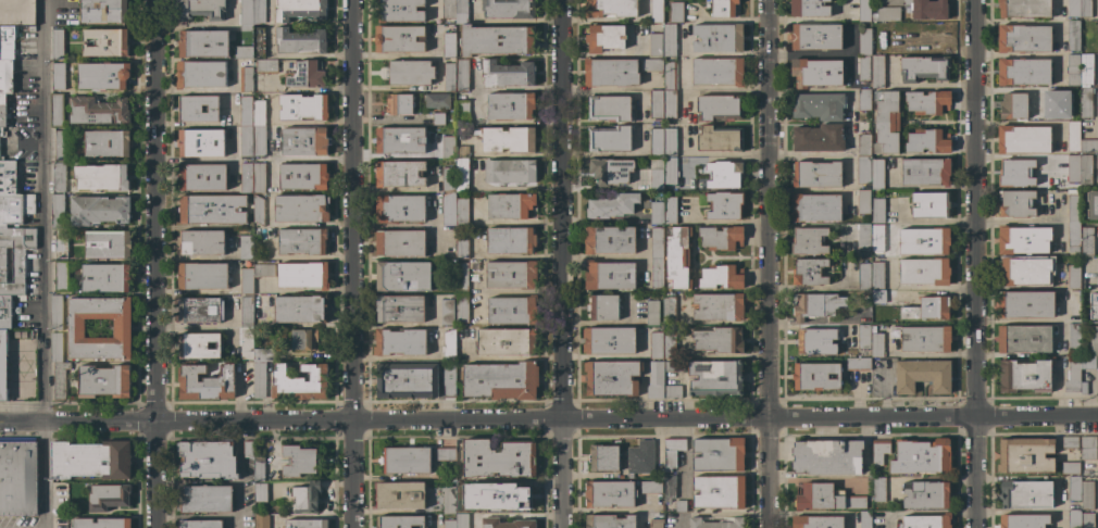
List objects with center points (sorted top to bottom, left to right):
building: (611, 8)
building: (722, 8)
building: (809, 8)
building: (1073, 8)
building: (201, 9)
building: (299, 9)
building: (448, 9)
building: (508, 9)
building: (926, 9)
building: (1024, 9)
building: (1085, 9)
building: (1095, 9)
building: (103, 11)
building: (400, 11)
building: (656, 11)
building: (863, 11)
building: (16, 12)
building: (246, 12)
building: (259, 12)
building: (461, 12)
building: (675, 12)
building: (886, 13)
road: (1045, 22)
building: (246, 28)
building: (815, 36)
building: (1073, 36)
building: (933, 37)
building: (399, 38)
building: (604, 38)
building: (718, 38)
building: (1024, 38)
building: (497, 40)
building: (669, 40)
building: (300, 41)
building: (863, 41)
building: (7, 42)
building: (104, 42)
building: (259, 42)
building: (1097, 42)
building: (58, 43)
building: (203, 43)
building: (449, 45)
building: (656, 45)
building: (896, 45)
building: (242, 52)
road: (1016, 55)
building: (650, 65)
building: (266, 66)
building: (863, 68)
building: (923, 68)
building: (1073, 70)
building: (1086, 70)
building: (877, 71)
building: (410, 72)
building: (718, 72)
building: (1023, 72)
building: (610, 73)
building: (815, 73)
building: (200, 74)
building: (507, 74)
building: (102, 75)
building: (305, 75)
building: (462, 75)
building: (5, 76)
building: (58, 76)
building: (449, 76)
building: (669, 76)
building: (246, 79)
road: (507, 88)
road: (201, 90)
building: (1052, 97)
building: (437, 100)
building: (863, 100)
building: (927, 102)
building: (1086, 102)
building: (399, 104)
building: (656, 104)
building: (669, 104)
building: (510, 105)
building: (1013, 105)
building: (303, 106)
building: (818, 106)
building: (609, 108)
building: (719, 108)
building: (198, 109)
building: (57, 110)
building: (3, 111)
building: (98, 111)
building: (246, 111)
building: (461, 112)
building: (259, 113)
building: (1062, 116)
building: (437, 118)
building: (886, 122)
road: (202, 123)
building: (2, 133)
building: (1073, 136)
building: (719, 138)
building: (819, 138)
building: (506, 139)
building: (609, 139)
building: (1023, 139)
building: (400, 140)
building: (928, 140)
building: (246, 141)
building: (259, 141)
building: (303, 141)
building: (656, 141)
building: (200, 142)
building: (670, 142)
building: (107, 143)
building: (60, 144)
building: (863, 144)
building: (1088, 146)
building: (448, 147)
building: (462, 151)
building: (1, 159)
road: (199, 159)
building: (1073, 167)
building: (863, 169)
building: (1085, 169)
building: (510, 171)
building: (610, 171)
building: (670, 171)
building: (925, 172)
building: (1015, 173)
building: (400, 174)
building: (461, 174)
building: (724, 174)
building: (877, 174)
building: (816, 175)
building: (303, 176)
building: (8, 177)
building: (58, 177)
building: (101, 177)
building: (201, 177)
building: (246, 177)
building: (259, 177)
building: (448, 178)
building: (657, 179)
building: (863, 201)
building: (1015, 203)
building: (929, 204)
building: (1091, 204)
building: (510, 205)
building: (612, 205)
building: (724, 205)
building: (301, 208)
building: (814, 208)
building: (15, 209)
building: (399, 209)
building: (448, 209)
building: (99, 210)
building: (211, 210)
building: (258, 210)
building: (670, 210)
building: (877, 210)
road: (41, 211)
building: (57, 211)
building: (461, 211)
building: (657, 213)
road: (1056, 219)
building: (1072, 219)
road: (1014, 221)
building: (721, 237)
building: (863, 237)
building: (877, 238)
building: (1023, 239)
building: (301, 240)
building: (511, 240)
building: (609, 240)
building: (924, 240)
building: (1096, 240)
building: (809, 241)
building: (1086, 241)
building: (200, 242)
building: (656, 242)
building: (60, 243)
building: (400, 243)
building: (107, 244)
building: (246, 248)
building: (461, 249)
building: (15, 257)
building: (676, 257)
road: (350, 263)
road: (561, 263)
road: (766, 263)
road: (152, 264)
road: (973, 264)
building: (263, 271)
building: (924, 271)
building: (1024, 271)
building: (810, 272)
building: (656, 273)
building: (302, 275)
building: (511, 275)
building: (610, 275)
building: (877, 275)
building: (61, 276)
building: (202, 276)
building: (402, 276)
building: (722, 276)
building: (863, 276)
building: (105, 277)
building: (462, 277)
building: (1073, 277)
road: (1087, 279)
building: (247, 280)
building: (878, 297)
building: (816, 304)
building: (1025, 304)
building: (719, 306)
building: (462, 307)
building: (603, 307)
building: (301, 309)
building: (400, 309)
building: (927, 309)
building: (200, 310)
building: (512, 310)
building: (670, 311)
building: (4, 312)
building: (247, 312)
building: (447, 312)
building: (57, 313)
building: (651, 313)
building: (1097, 313)
building: (122, 328)
building: (863, 336)
building: (1074, 337)
building: (922, 338)
building: (303, 339)
building: (1023, 339)
building: (500, 340)
building: (609, 340)
building: (720, 340)
building: (670, 341)
building: (816, 341)
building: (1094, 341)
building: (247, 342)
building: (400, 342)
building: (657, 342)
building: (199, 344)
building: (449, 344)
building: (876, 344)
building: (57, 347)
building: (260, 354)
building: (858, 363)
building: (669, 365)
building: (3, 372)
building: (1077, 373)
building: (922, 375)
building: (1025, 375)
building: (816, 376)
building: (612, 377)
building: (259, 378)
building: (449, 378)
building: (715, 378)
building: (60, 379)
building: (656, 379)
building: (407, 380)
building: (501, 380)
building: (103, 381)
building: (204, 382)
building: (300, 382)
building: (673, 391)
road: (570, 417)
road: (22, 422)
building: (1070, 441)
building: (1088, 448)
building: (672, 451)
building: (878, 451)
building: (719, 454)
building: (1025, 455)
building: (826, 456)
building: (921, 456)
building: (603, 457)
building: (640, 457)
building: (414, 458)
building: (498, 458)
building: (90, 460)
building: (207, 460)
building: (248, 461)
building: (299, 461)
building: (1070, 467)
building: (259, 468)
road: (43, 475)
building: (17, 476)
building: (631, 476)
building: (651, 487)
building: (670, 487)
building: (1073, 488)
building: (878, 489)
building: (463, 491)
building: (260, 492)
building: (719, 492)
building: (609, 493)
building: (925, 494)
building: (1026, 494)
building: (400, 495)
building: (1086, 495)
building: (108, 496)
building: (305, 496)
building: (517, 498)
building: (826, 498)
building: (204, 499)
building: (449, 500)
building: (679, 505)
building: (1073, 518)
building: (865, 519)
building: (261, 520)
building: (462, 520)
building: (1023, 520)
building: (1087, 520)
building: (400, 521)
building: (610, 521)
building: (818, 521)
building: (926, 521)
building: (101, 523)
building: (507, 523)
building: (656, 523)
building: (200, 524)
building: (305, 524)
building: (449, 524)
building: (714, 524)

